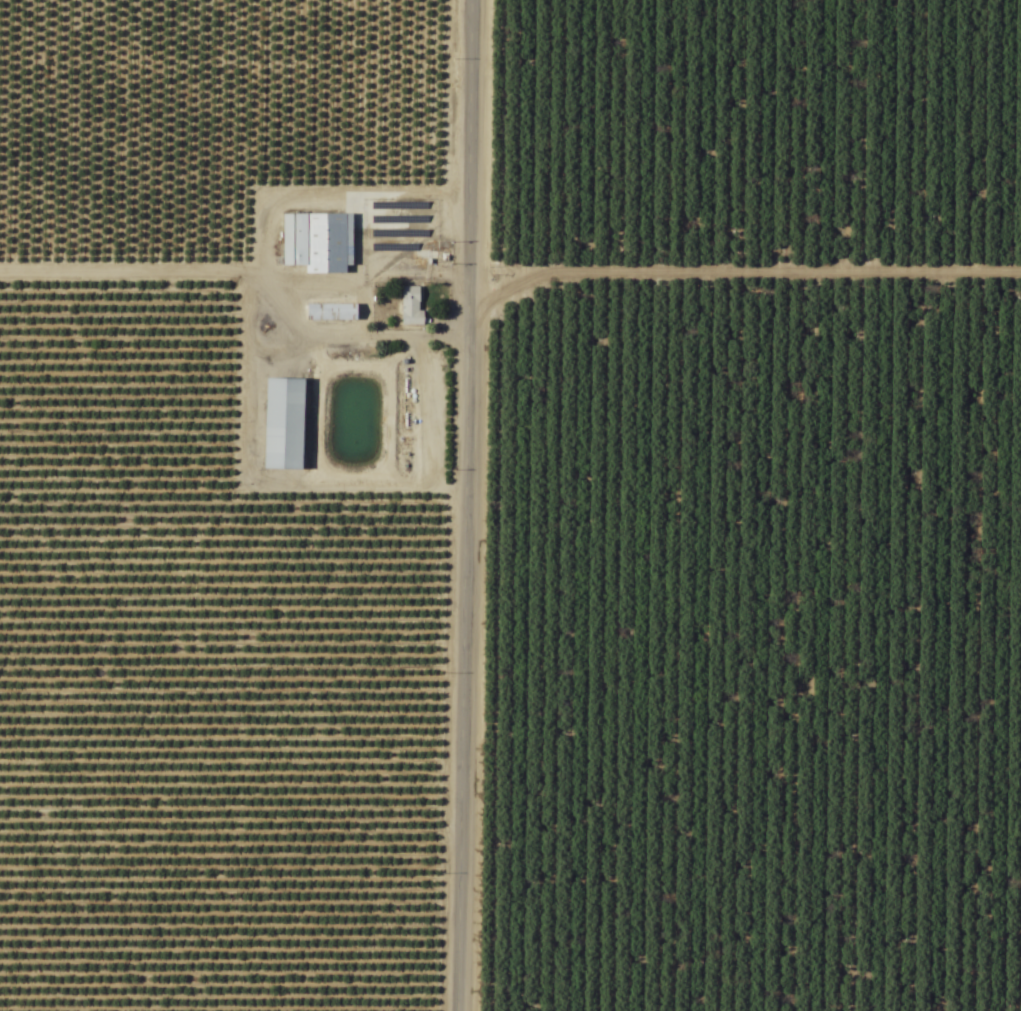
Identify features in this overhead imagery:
building: (317, 242)
building: (410, 306)
building: (284, 424)
road: (466, 505)
crop: (510, 505)

